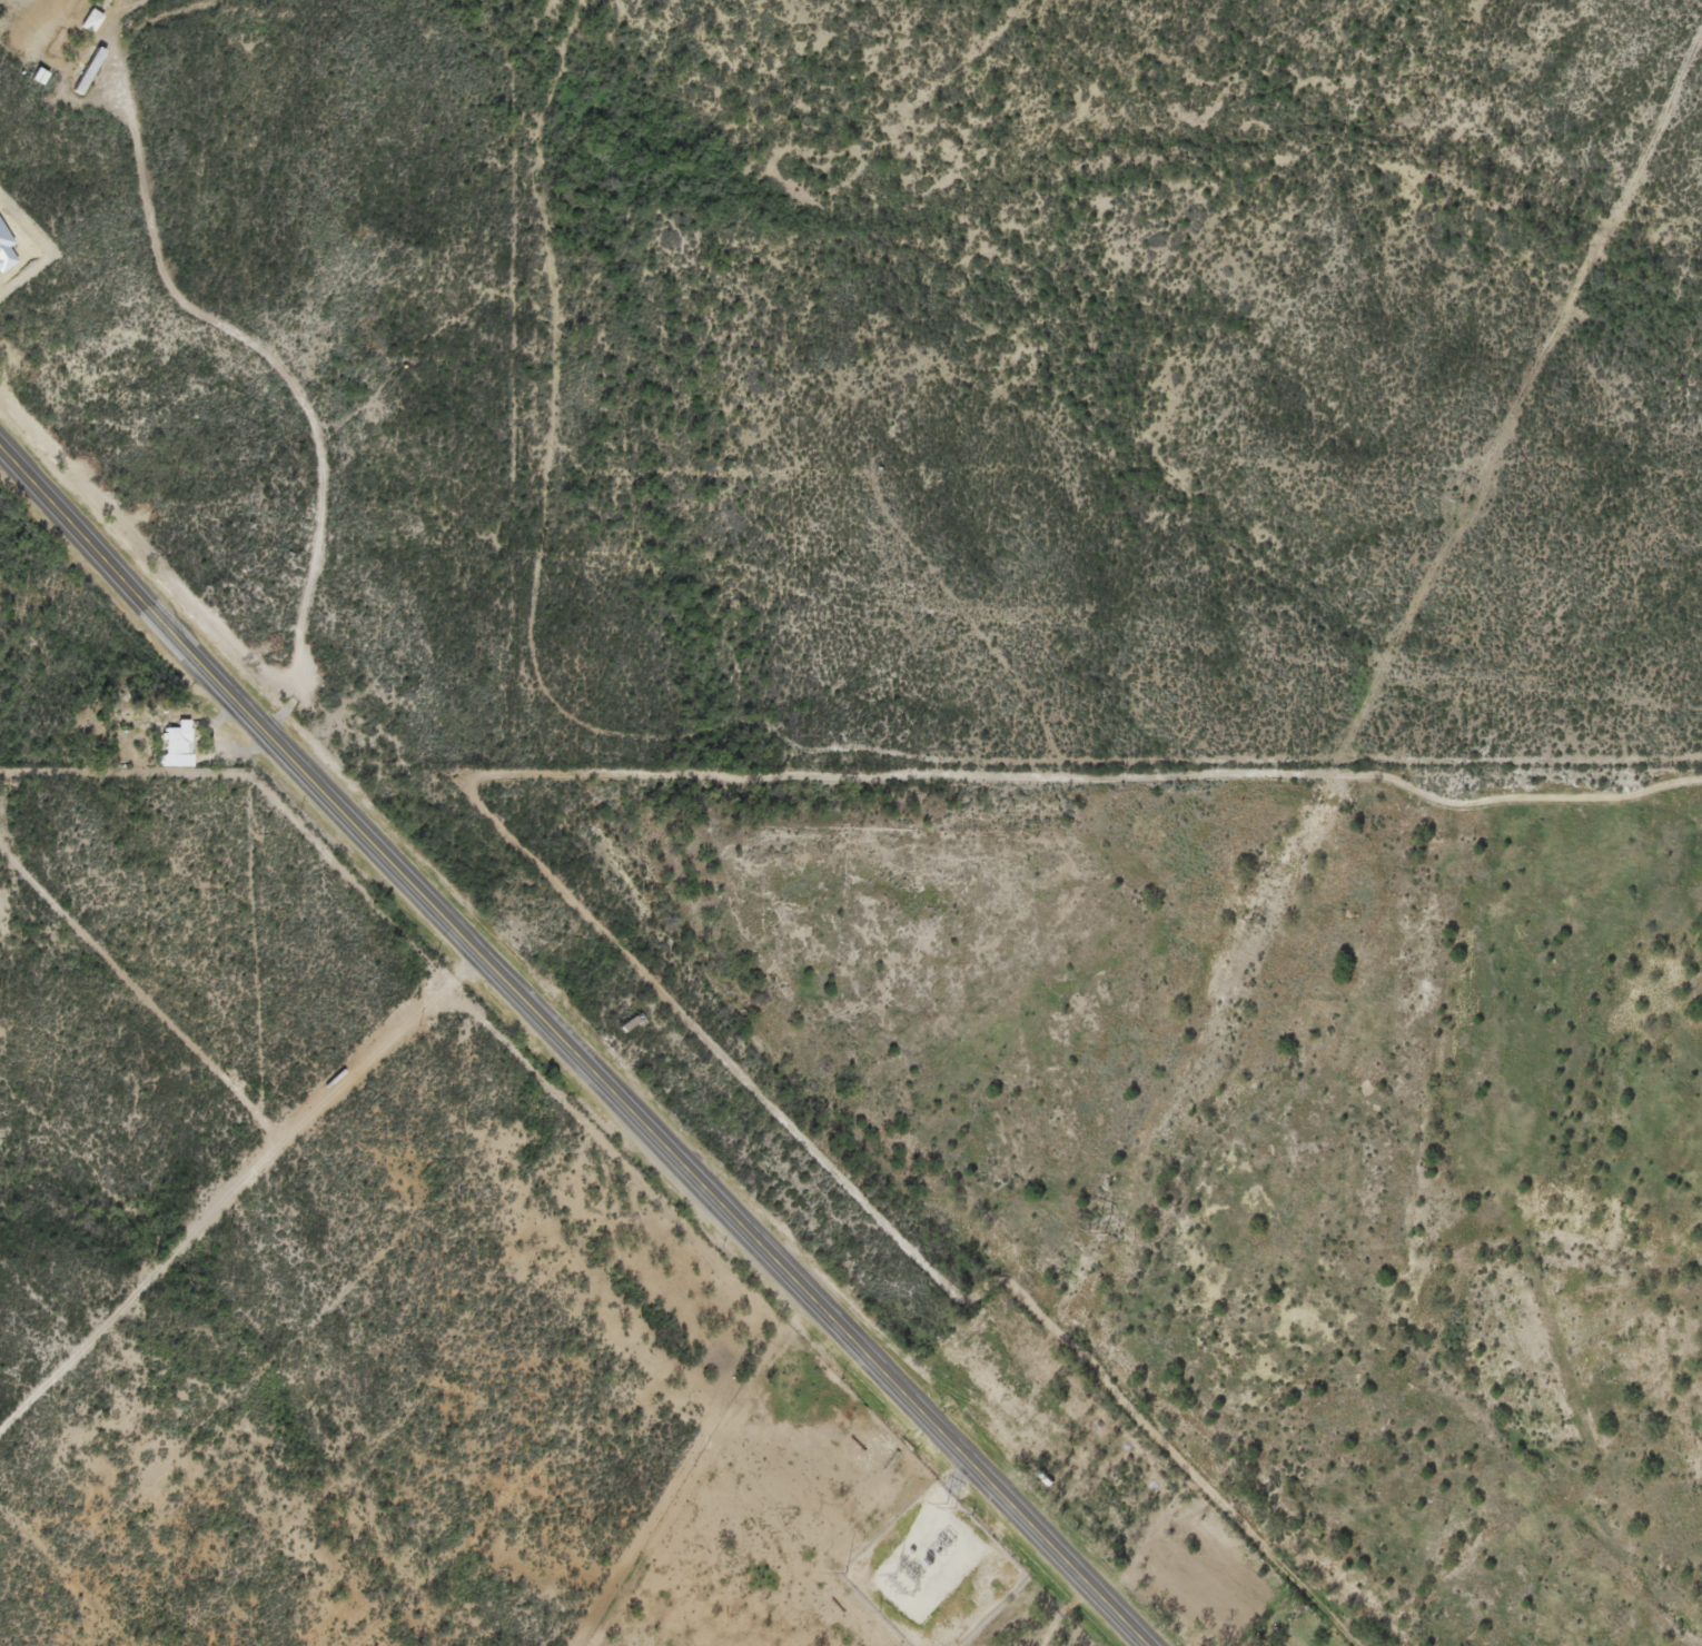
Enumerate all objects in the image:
building: (85, 23)
building: (82, 73)
building: (33, 79)
road: (274, 370)
power tower: (1466, 500)
building: (171, 746)
power tower: (1255, 922)
building: (634, 1021)
road: (570, 1049)
power tower: (1106, 1231)
road: (259, 1371)
power tower: (950, 1506)
road: (169, 1511)
power substation: (934, 1570)

